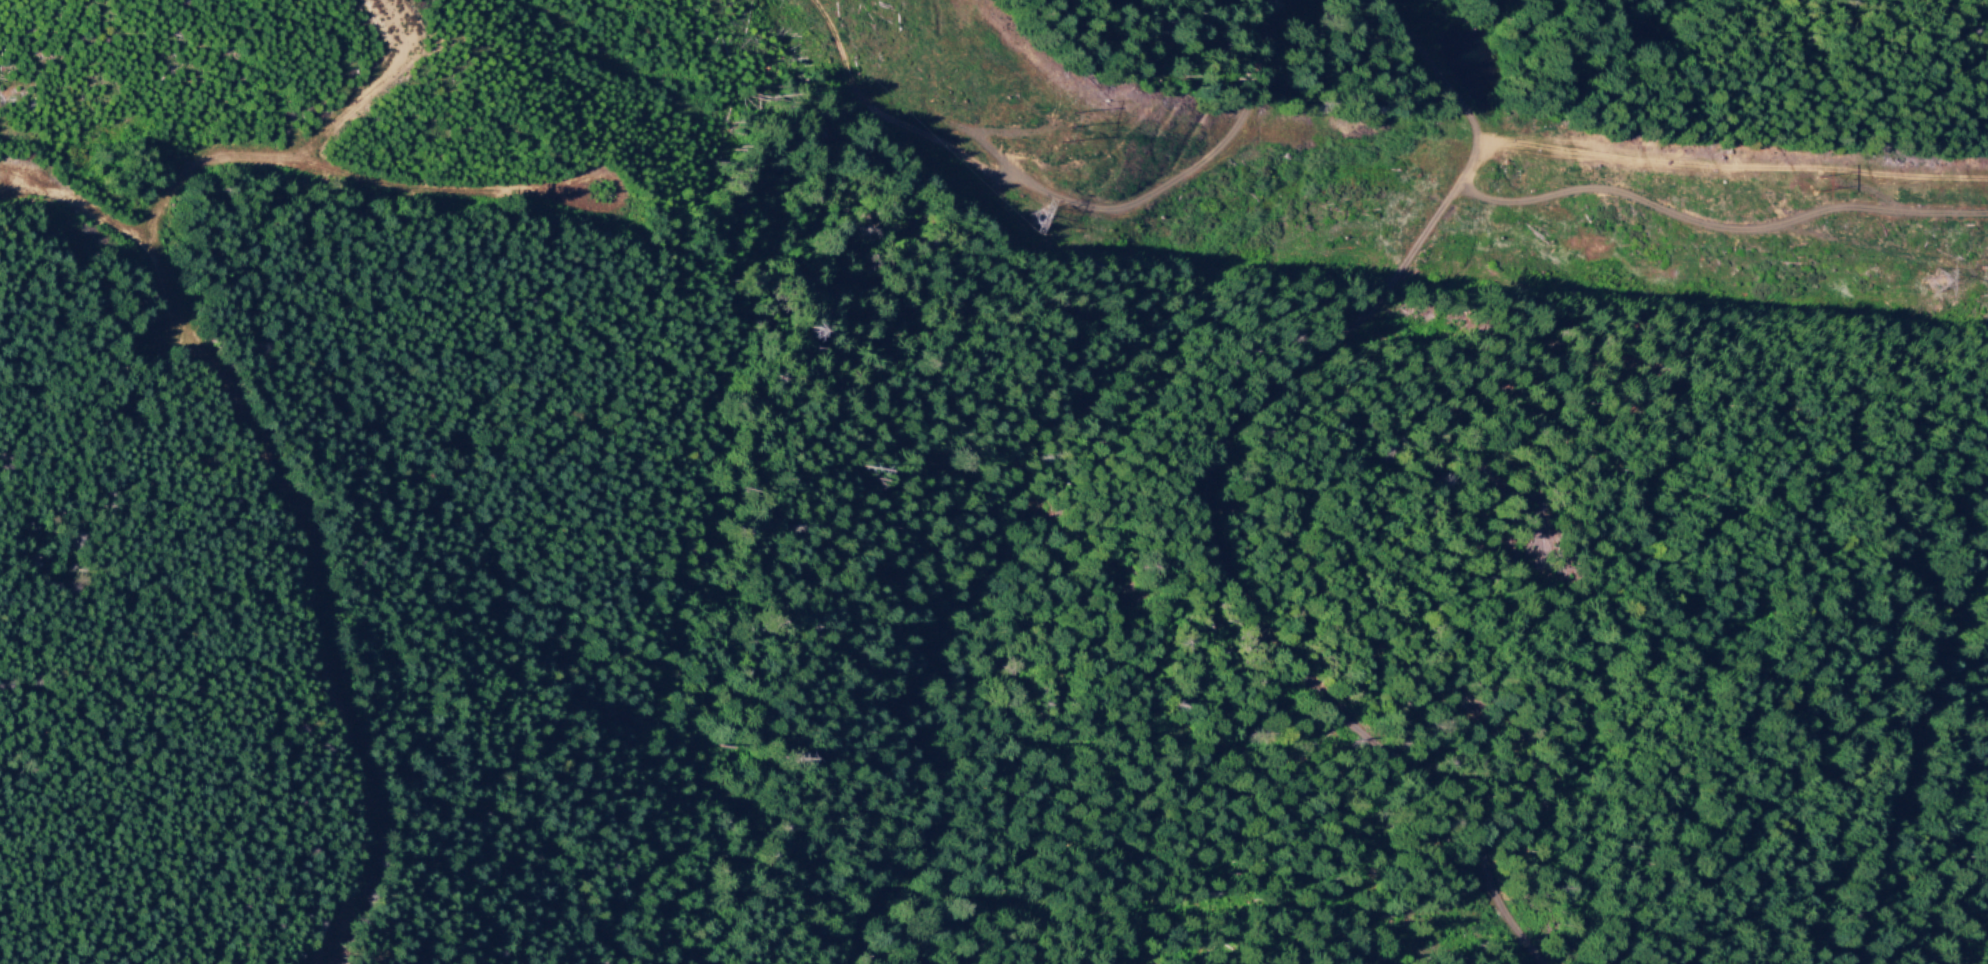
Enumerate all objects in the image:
power tower: (1066, 129)
road: (1424, 168)
power tower: (1817, 186)
road: (1920, 783)

